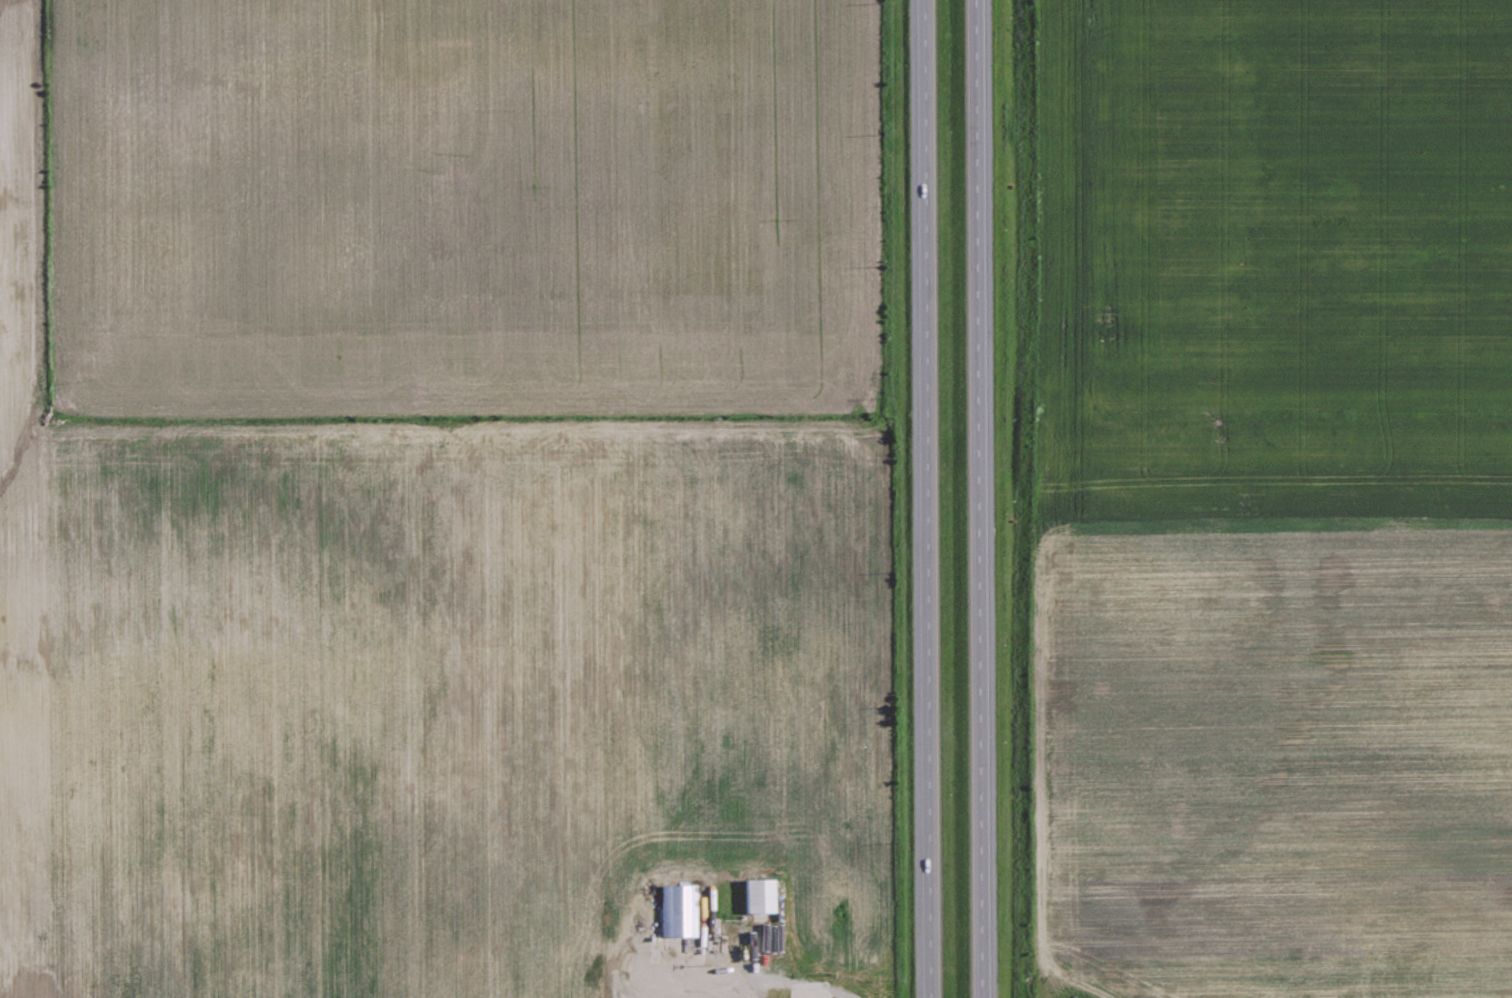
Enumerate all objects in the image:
crop: (1274, 497)
road: (930, 499)
road: (977, 499)
building: (759, 894)
building: (679, 911)
parking lot: (751, 937)
road: (674, 965)
road: (623, 972)
road: (742, 988)
road: (844, 994)

